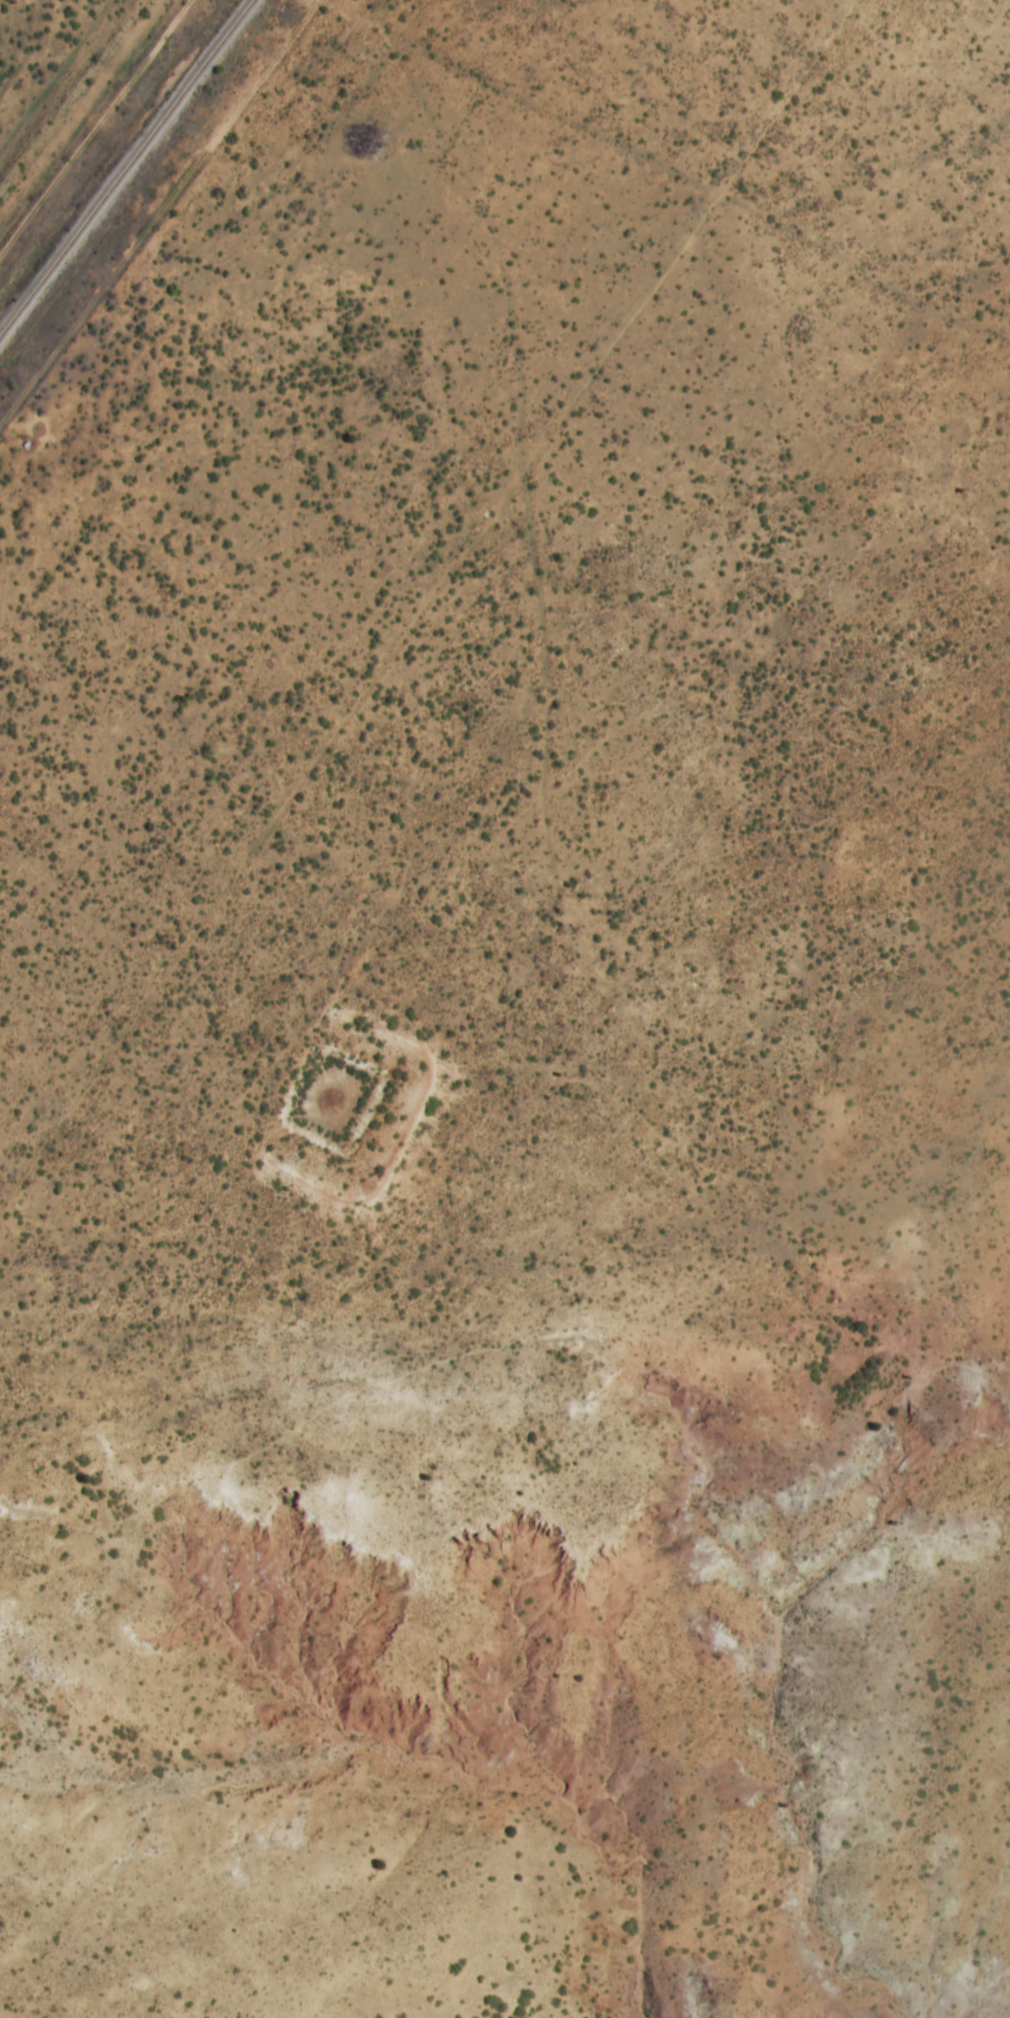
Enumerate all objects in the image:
road: (76, 106)
railway: (125, 166)

